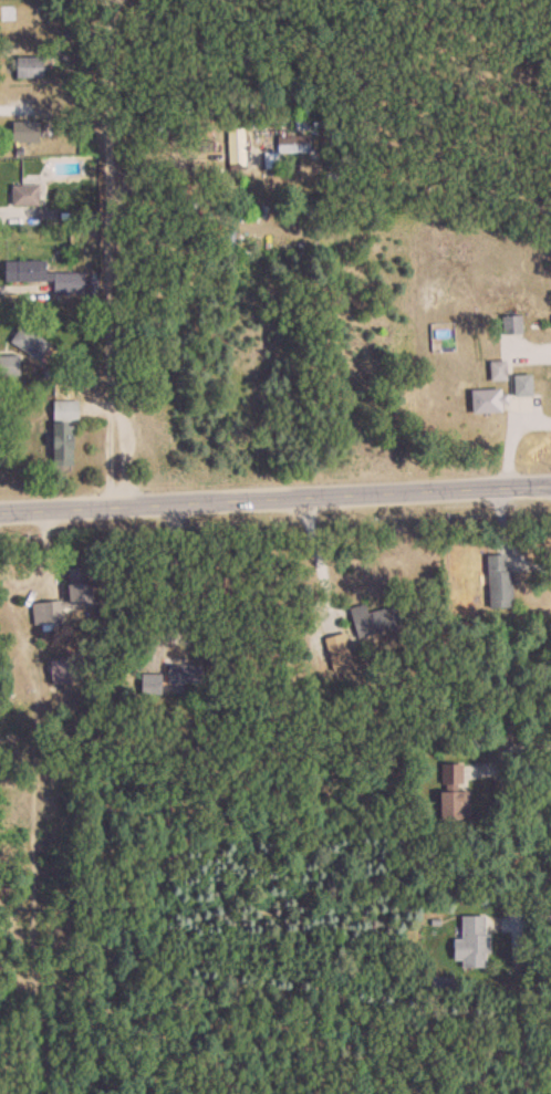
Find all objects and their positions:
building: (31, 67)
building: (28, 132)
building: (295, 144)
building: (237, 146)
building: (29, 195)
road: (101, 258)
building: (46, 277)
building: (513, 325)
building: (32, 344)
building: (10, 366)
building: (500, 371)
building: (526, 385)
building: (490, 402)
road: (275, 507)
road: (316, 562)
road: (171, 574)
building: (82, 583)
building: (502, 586)
building: (375, 618)
building: (67, 669)
building: (188, 674)
building: (454, 794)
building: (474, 941)

